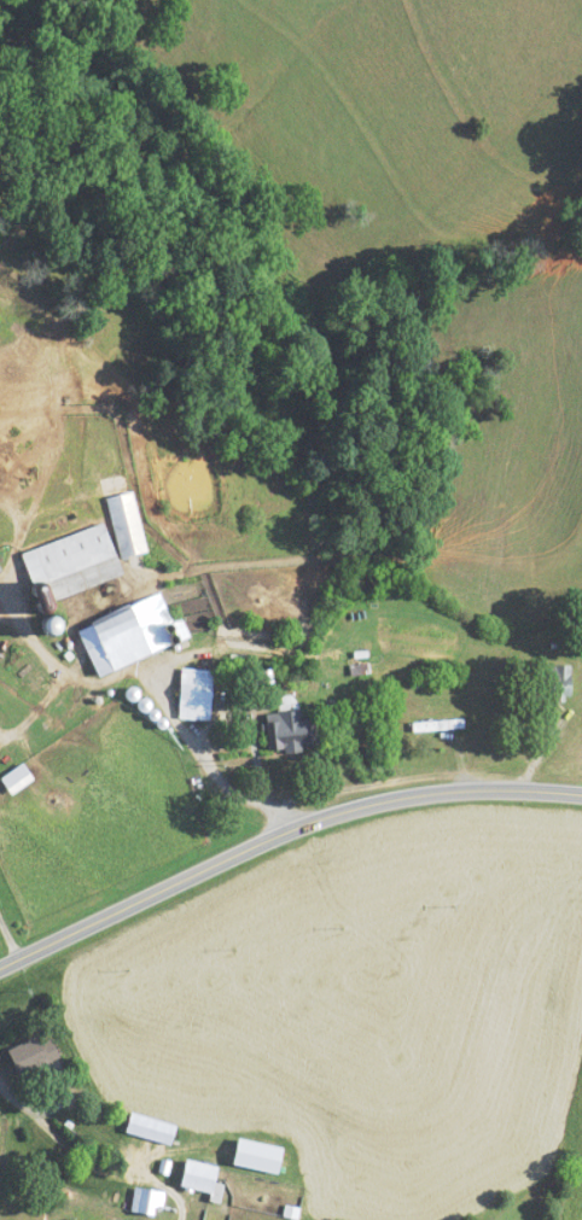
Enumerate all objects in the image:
building: (126, 526)
building: (71, 565)
building: (129, 636)
building: (558, 683)
road: (158, 690)
building: (194, 695)
building: (437, 726)
building: (291, 732)
building: (16, 780)
road: (279, 835)
building: (31, 1055)
road: (47, 1109)
building: (150, 1128)
building: (198, 1177)
building: (145, 1201)

